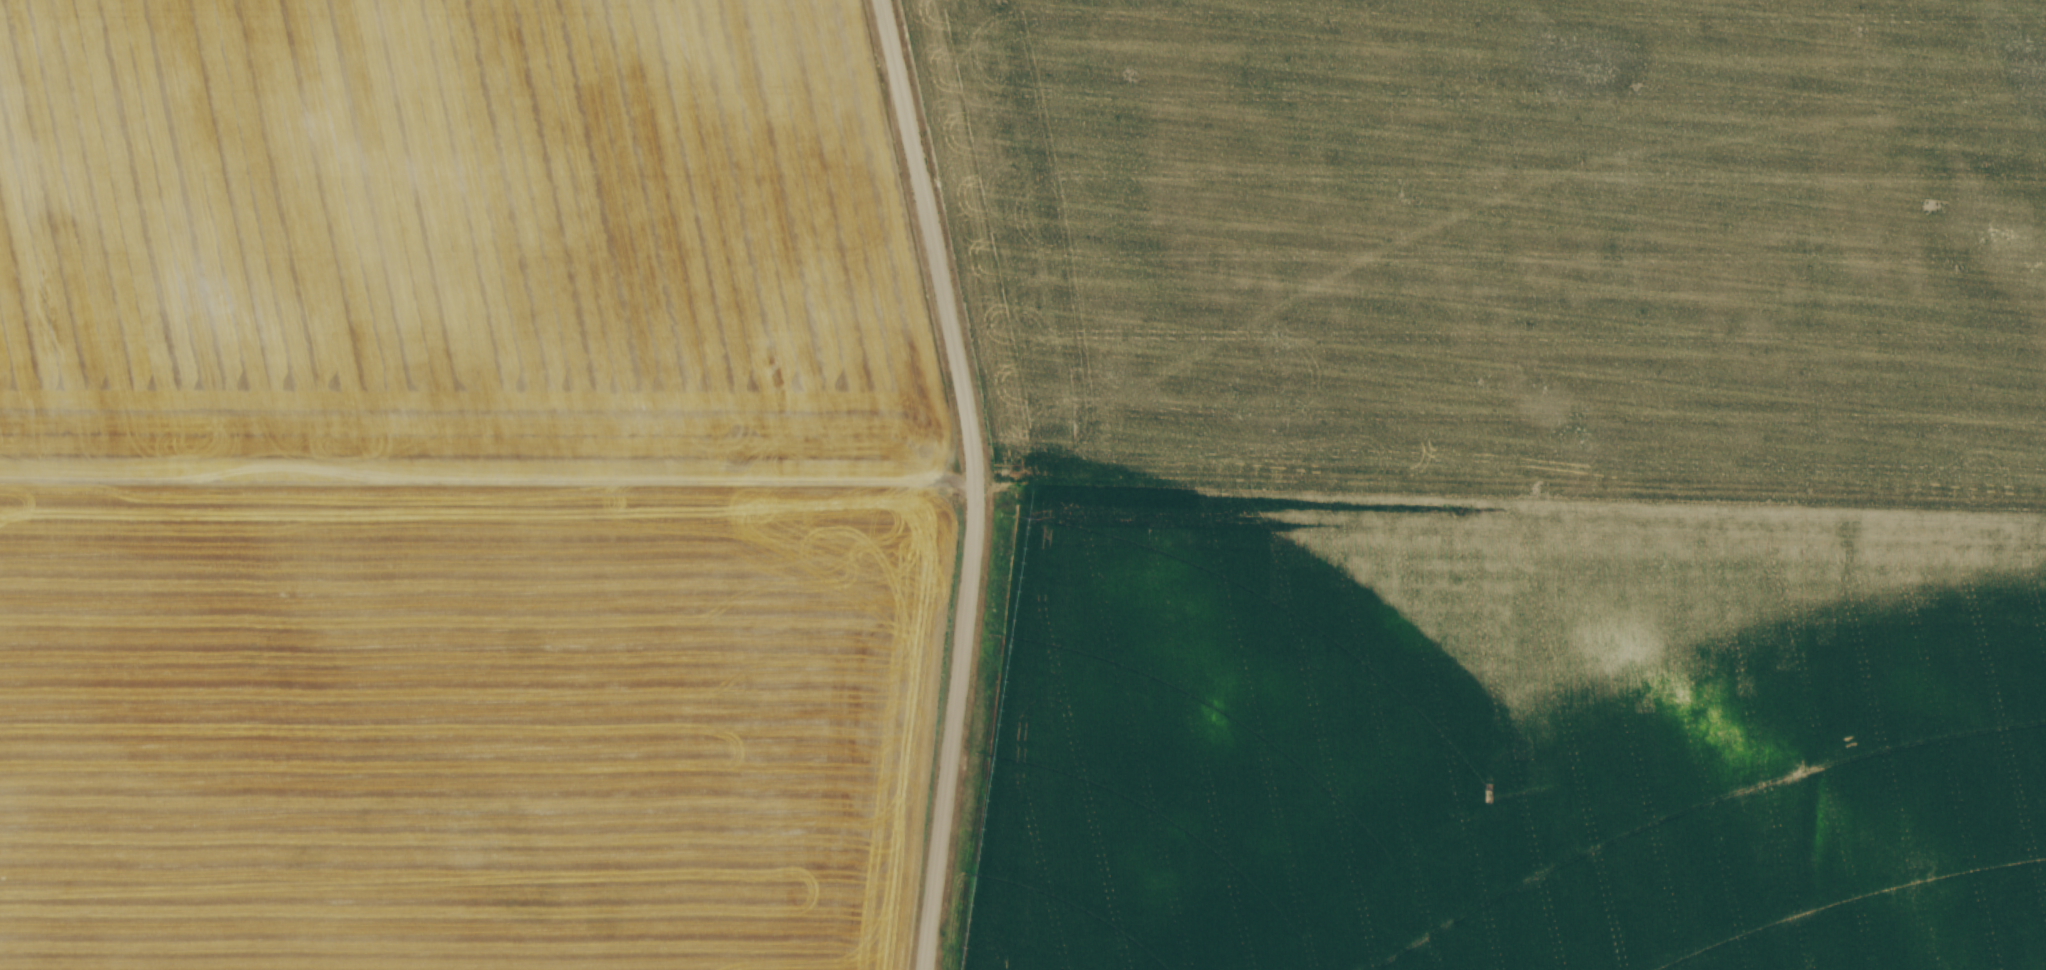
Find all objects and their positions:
crop: (1510, 480)
road: (976, 481)
crop: (460, 489)

